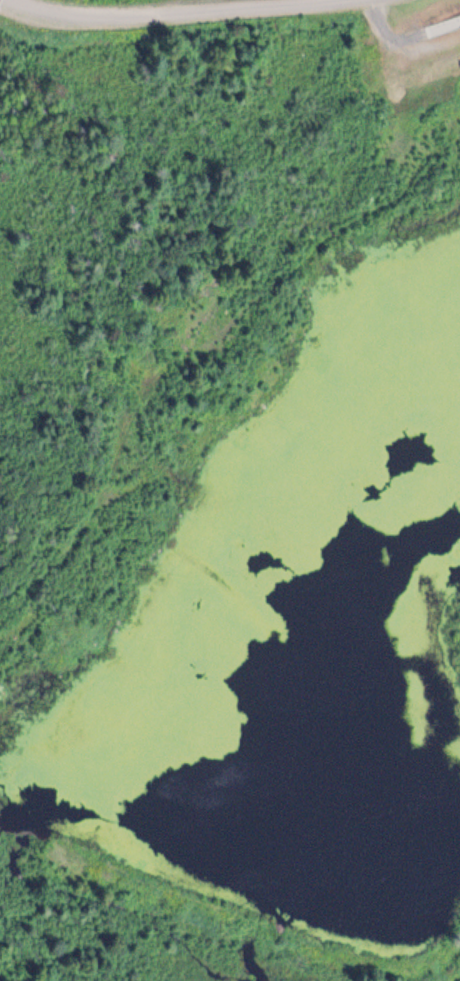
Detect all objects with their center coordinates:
road: (159, 12)
road: (407, 36)

